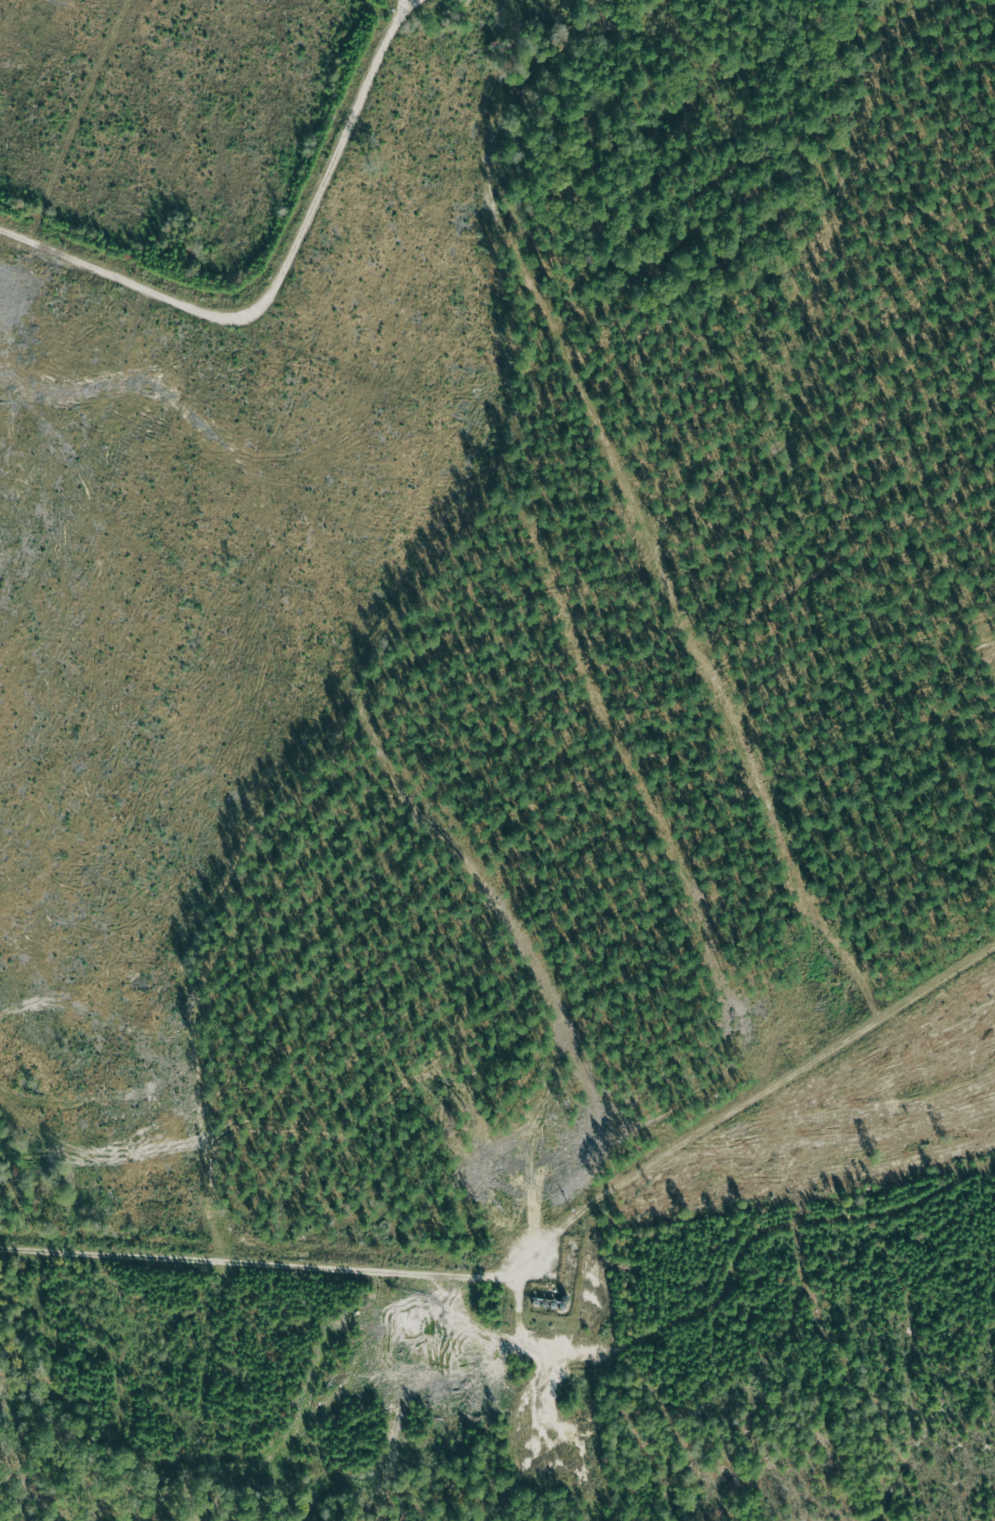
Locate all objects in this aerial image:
road: (252, 1259)

